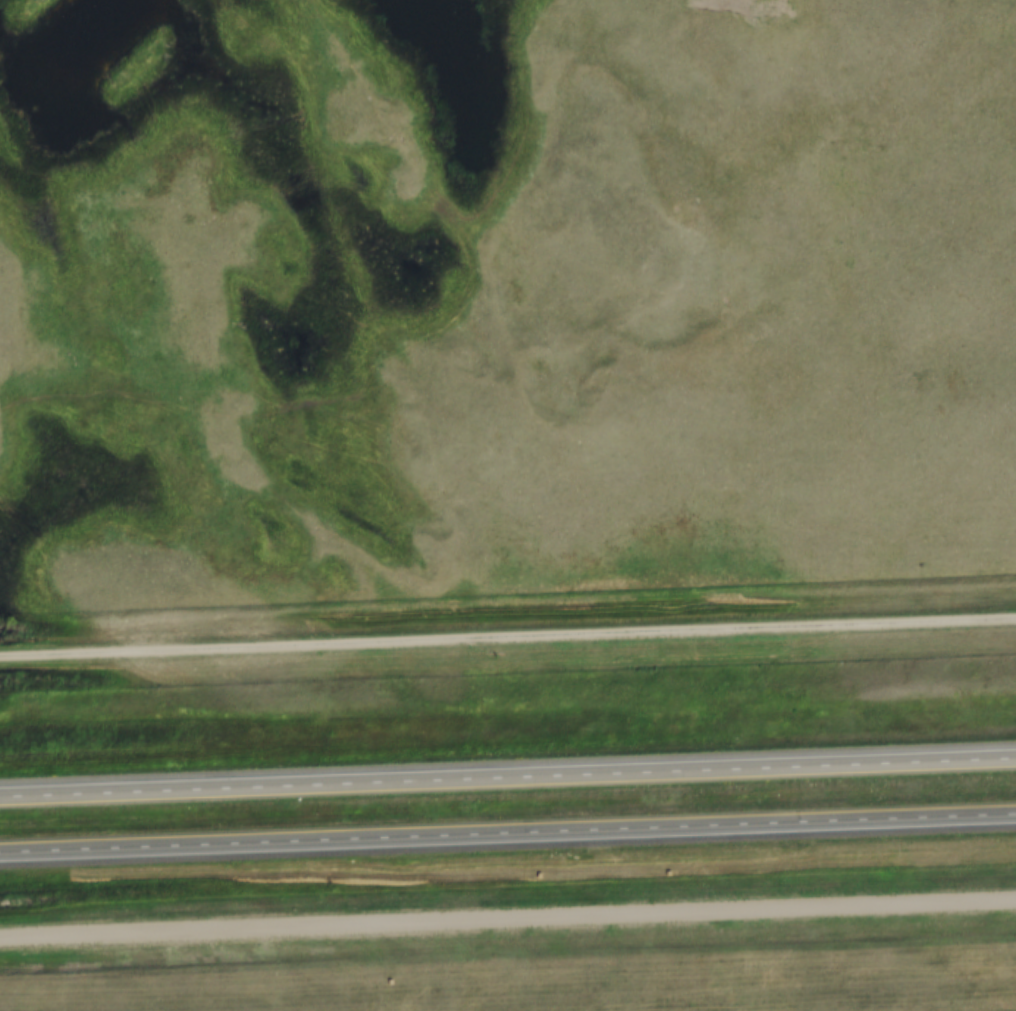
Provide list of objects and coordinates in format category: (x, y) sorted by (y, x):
road: (508, 639)
road: (507, 778)
road: (507, 833)
road: (507, 921)

